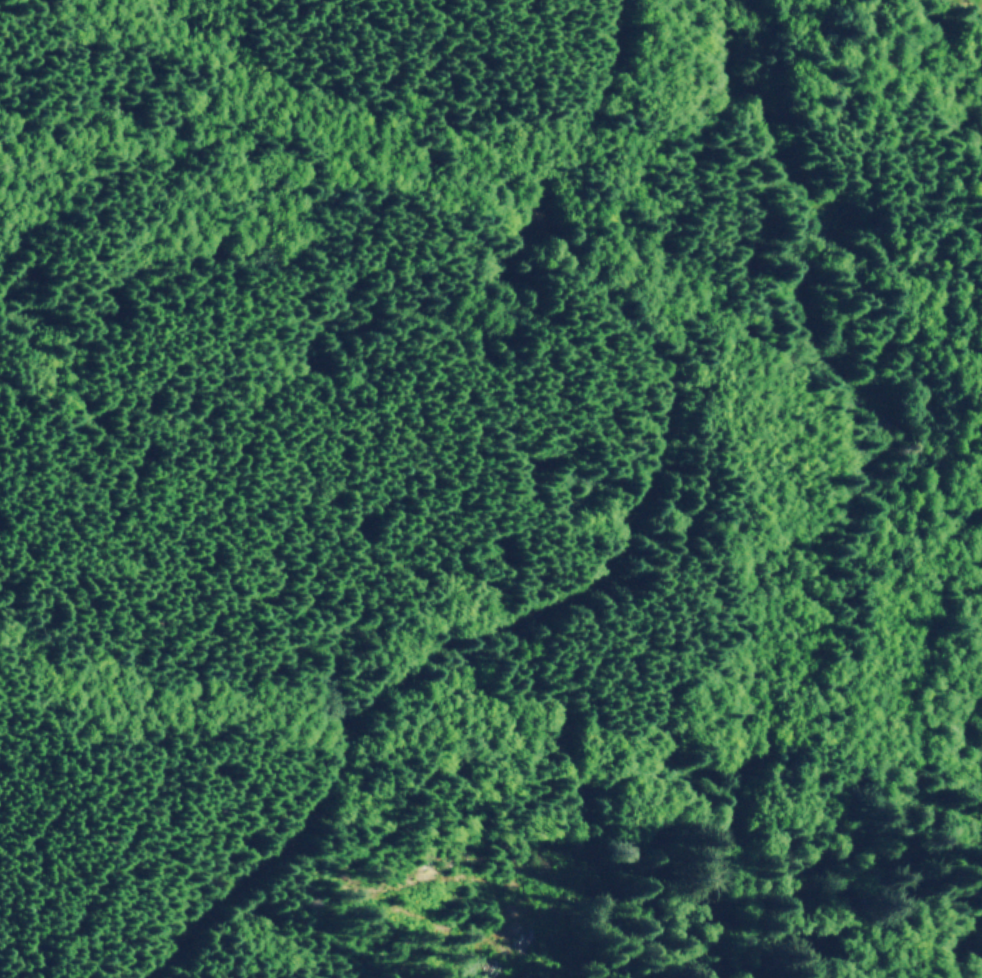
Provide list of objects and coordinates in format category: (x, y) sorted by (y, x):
road: (647, 555)

